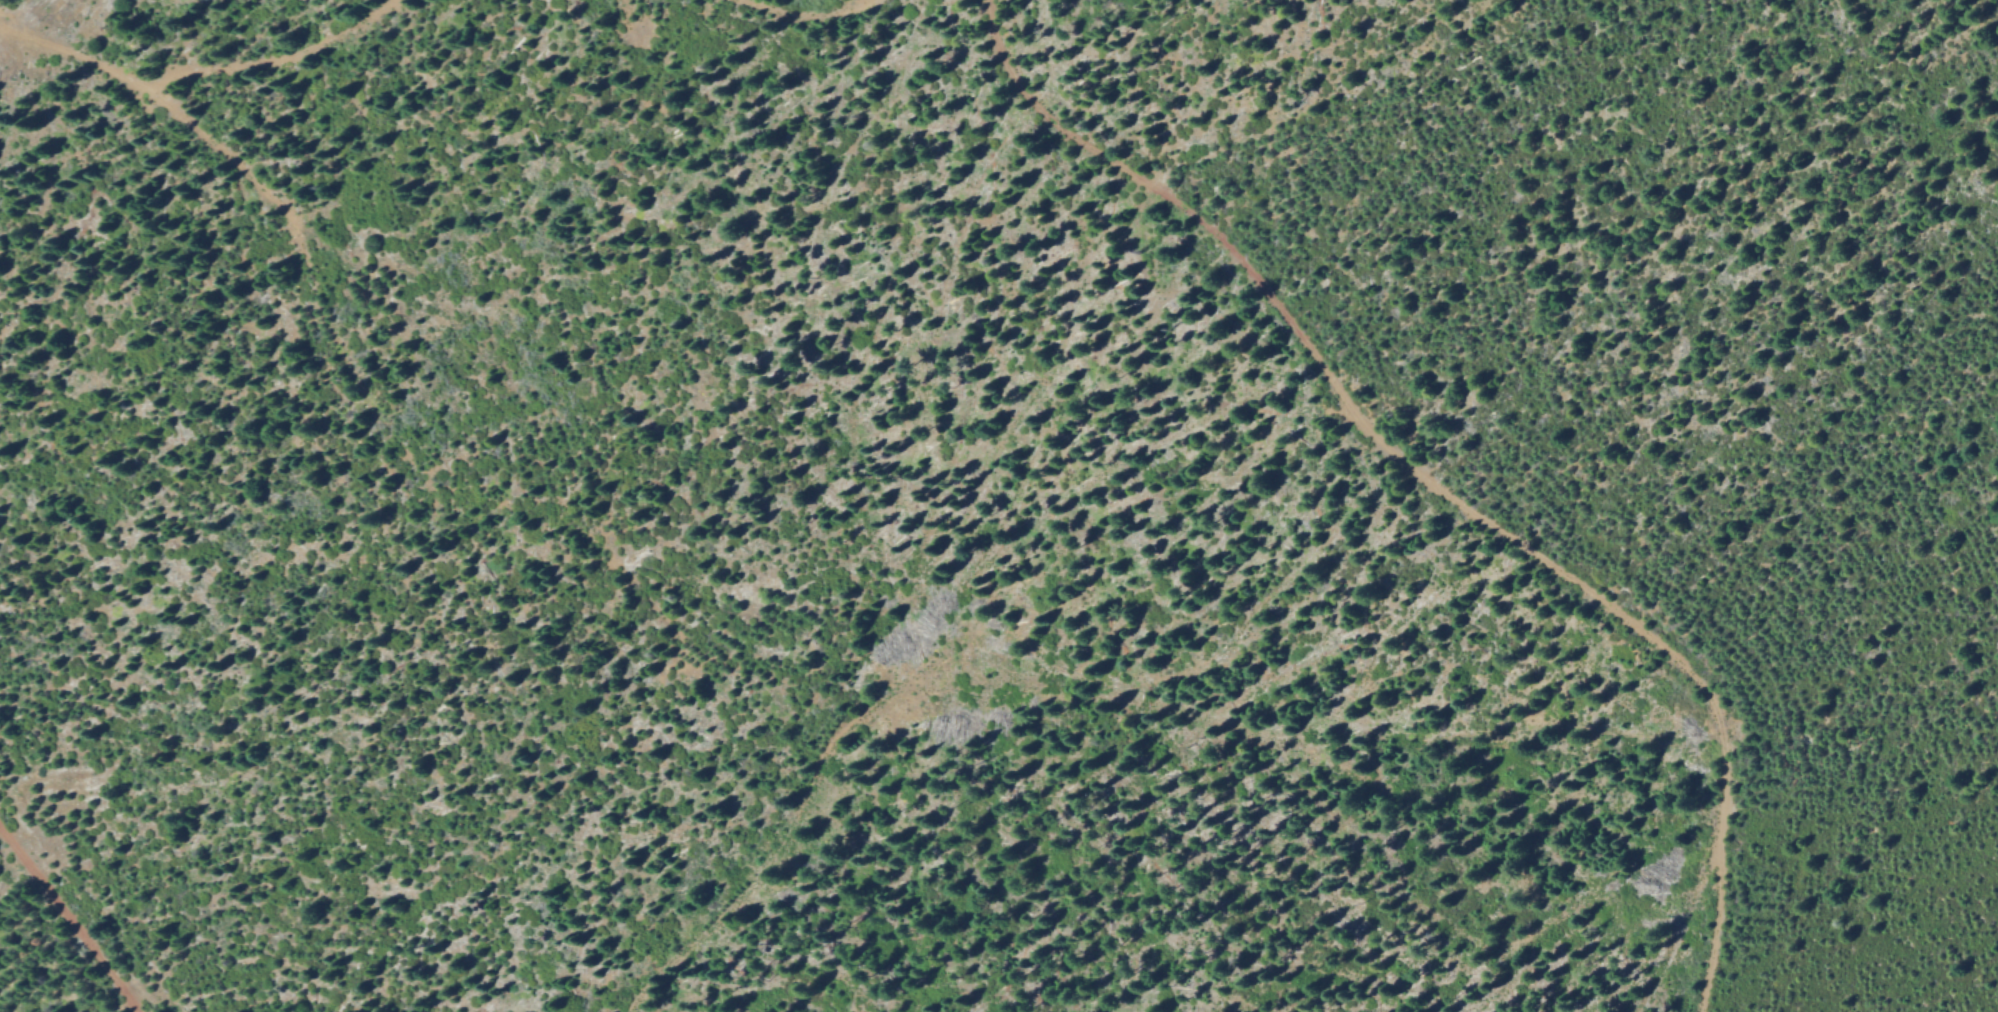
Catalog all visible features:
road: (16, 5)
road: (808, 15)
road: (263, 61)
road: (171, 111)
road: (1436, 484)
road: (72, 919)

